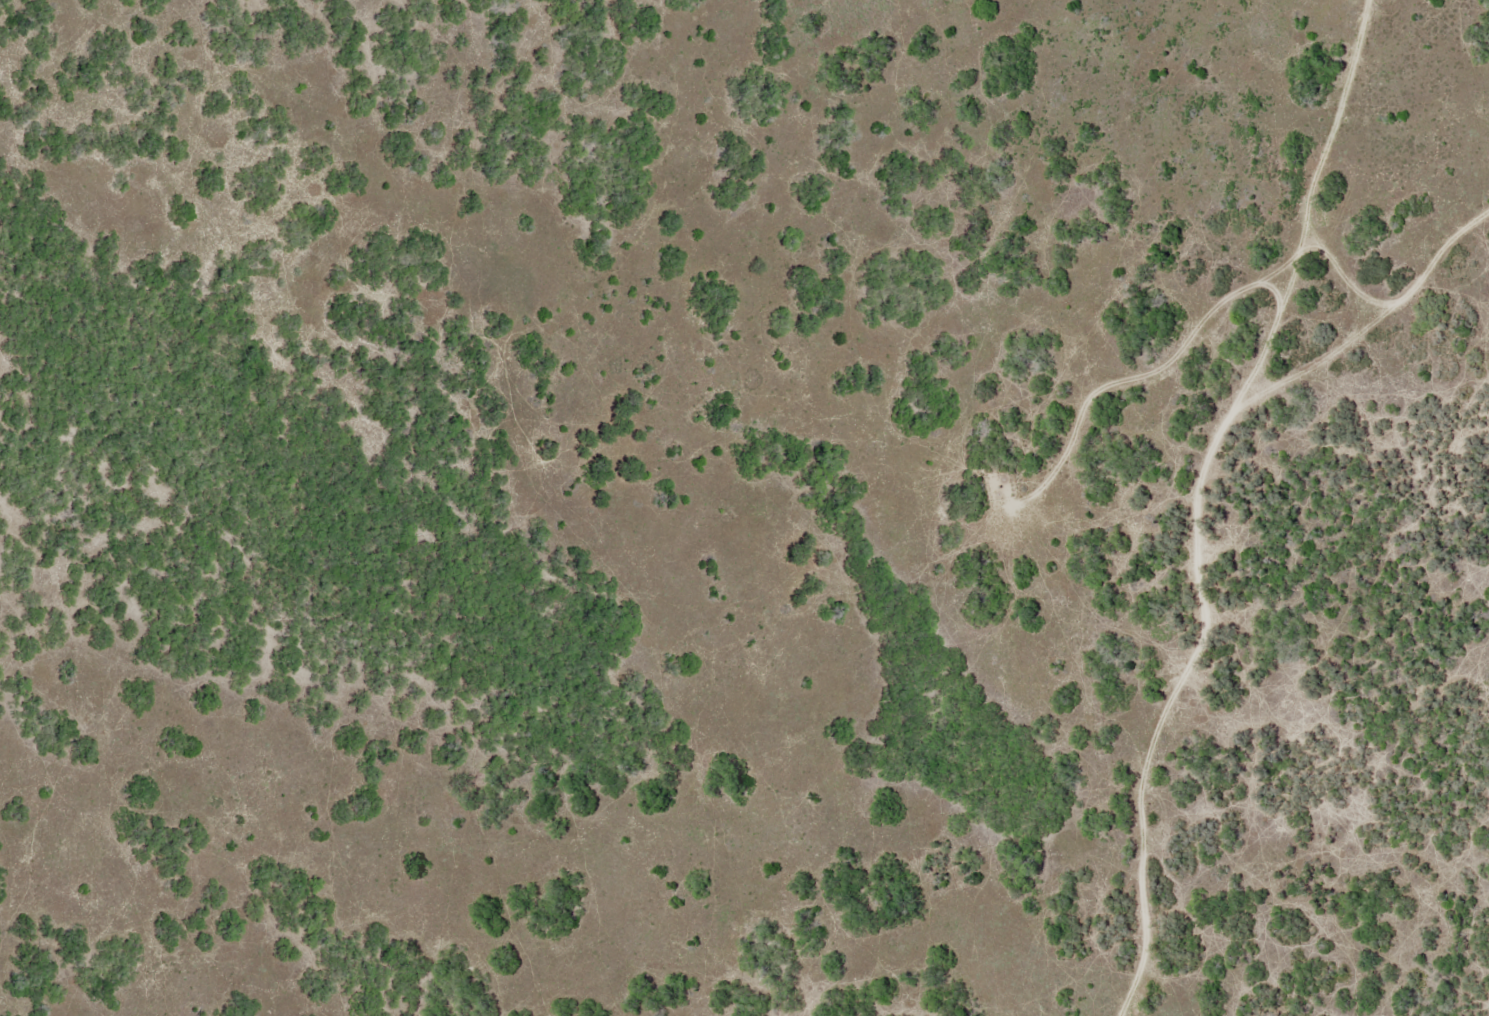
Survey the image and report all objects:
road: (1323, 182)
road: (1209, 574)

